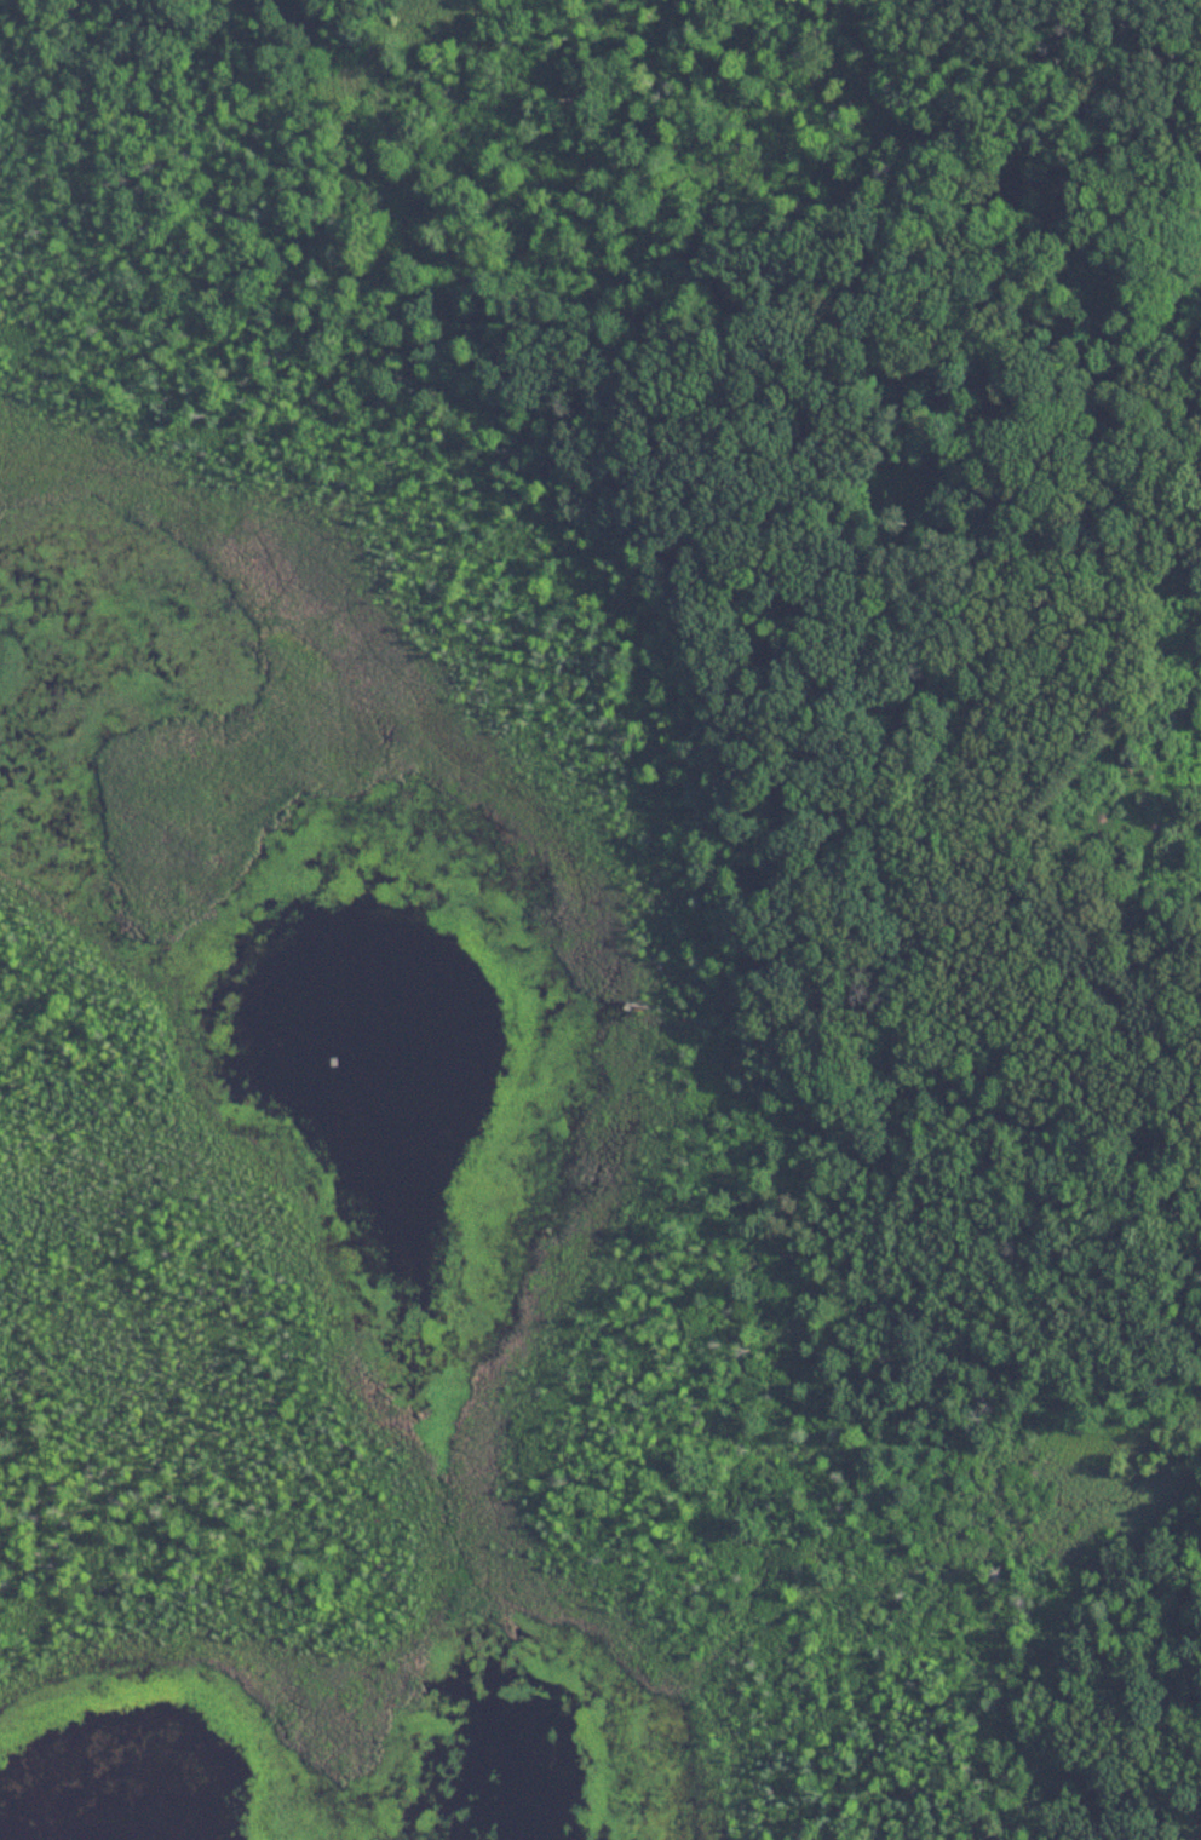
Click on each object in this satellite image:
road: (1051, 794)

